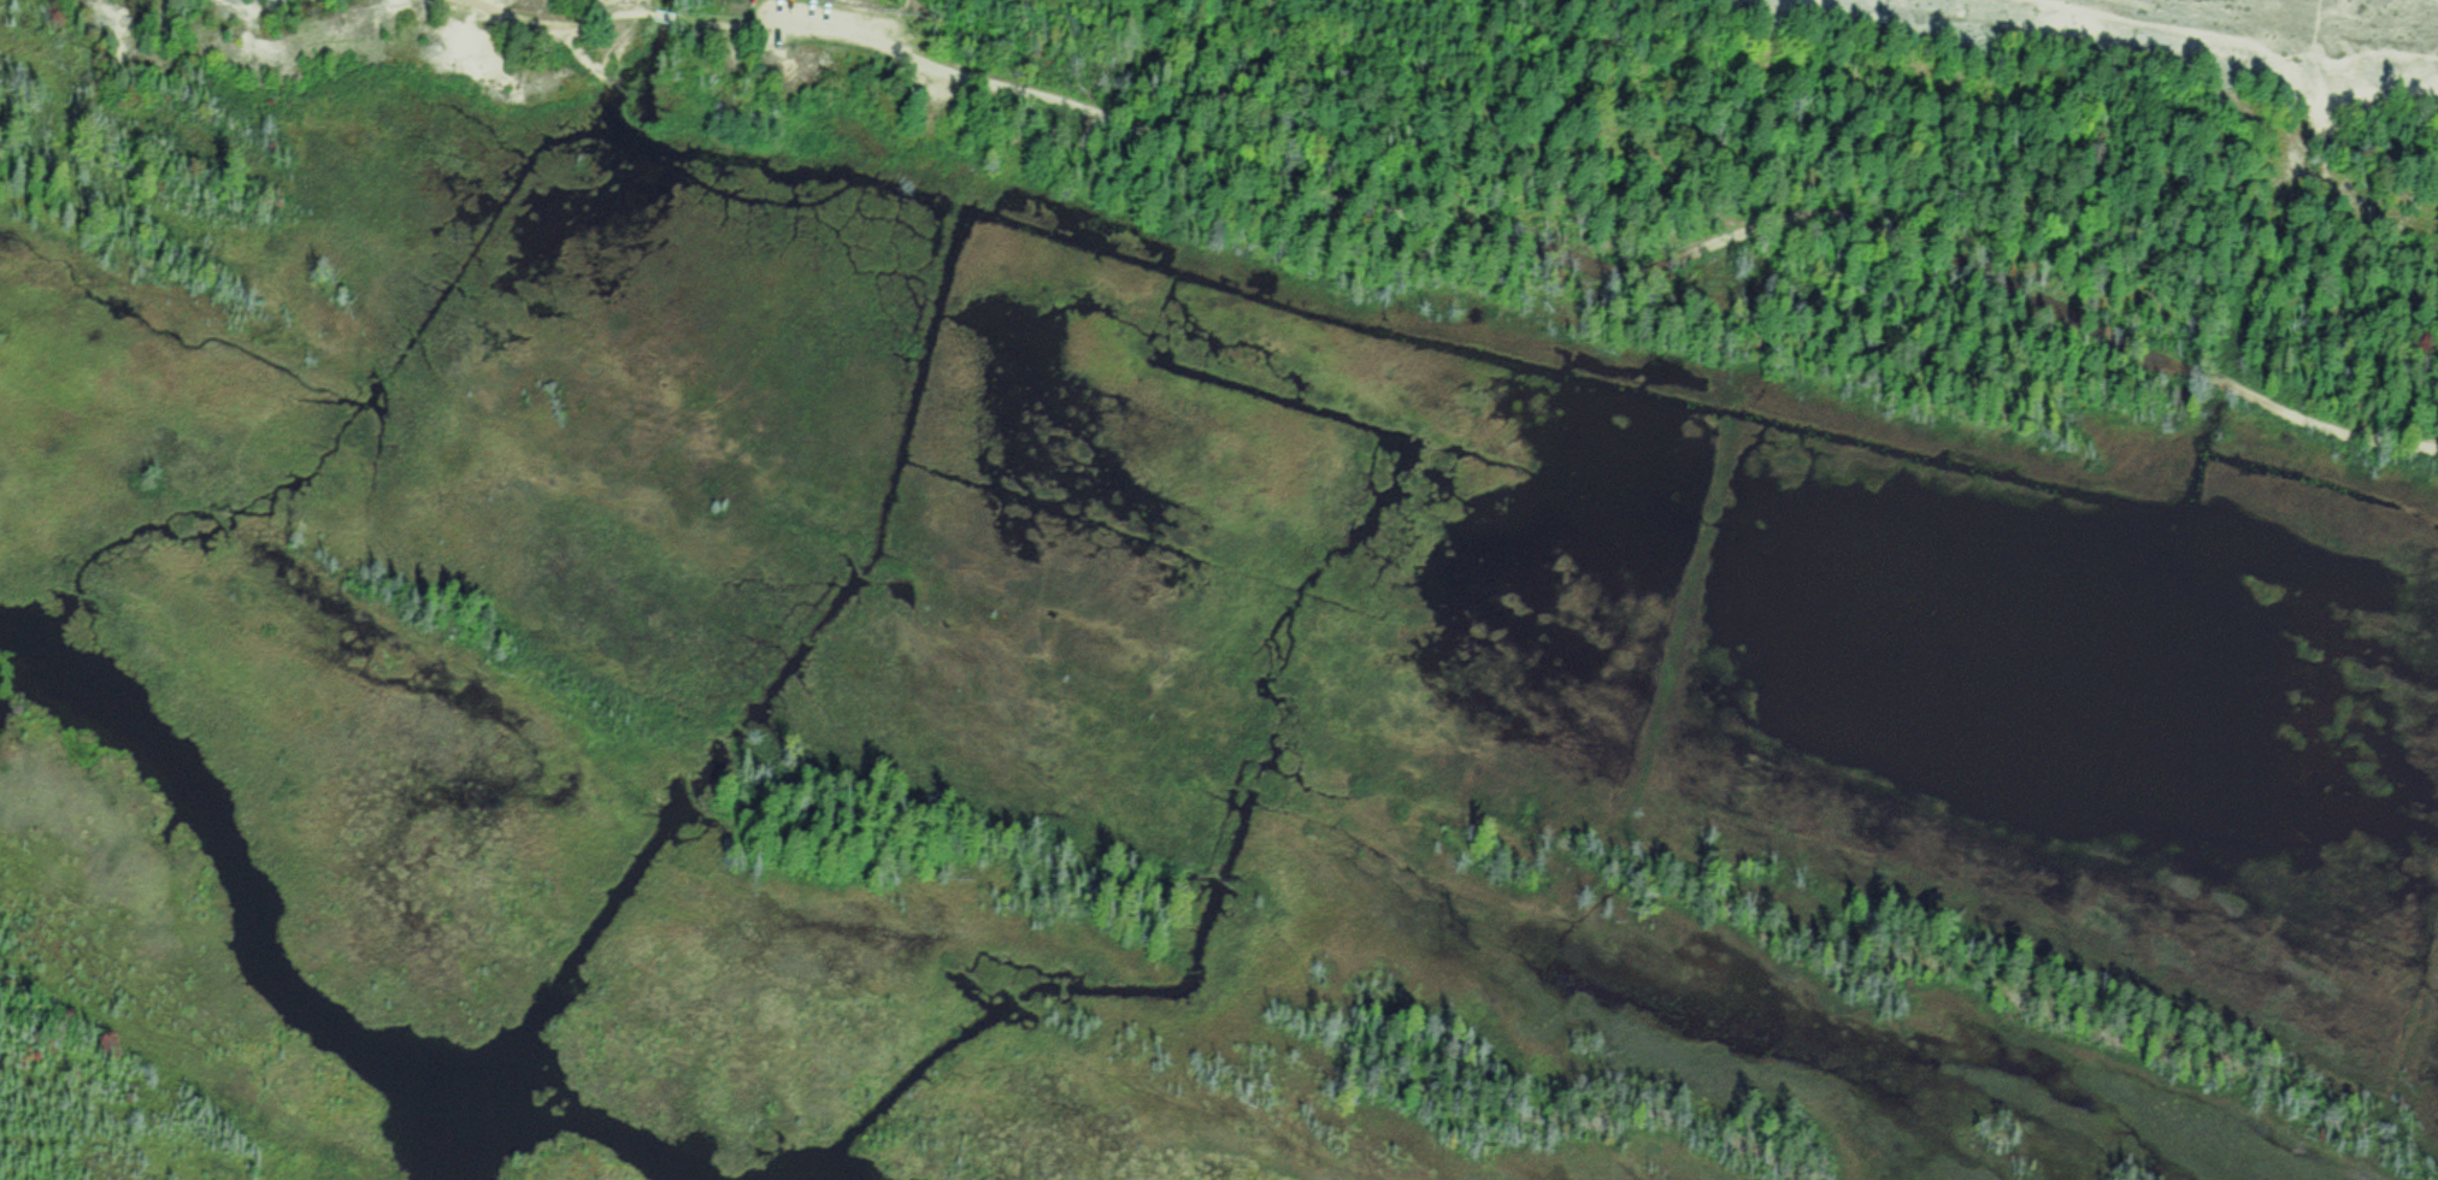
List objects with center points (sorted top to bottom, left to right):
road: (661, 12)
road: (719, 17)
road: (558, 22)
parking lot: (860, 22)
road: (897, 24)
road: (566, 37)
road: (2236, 39)
road: (1610, 261)

